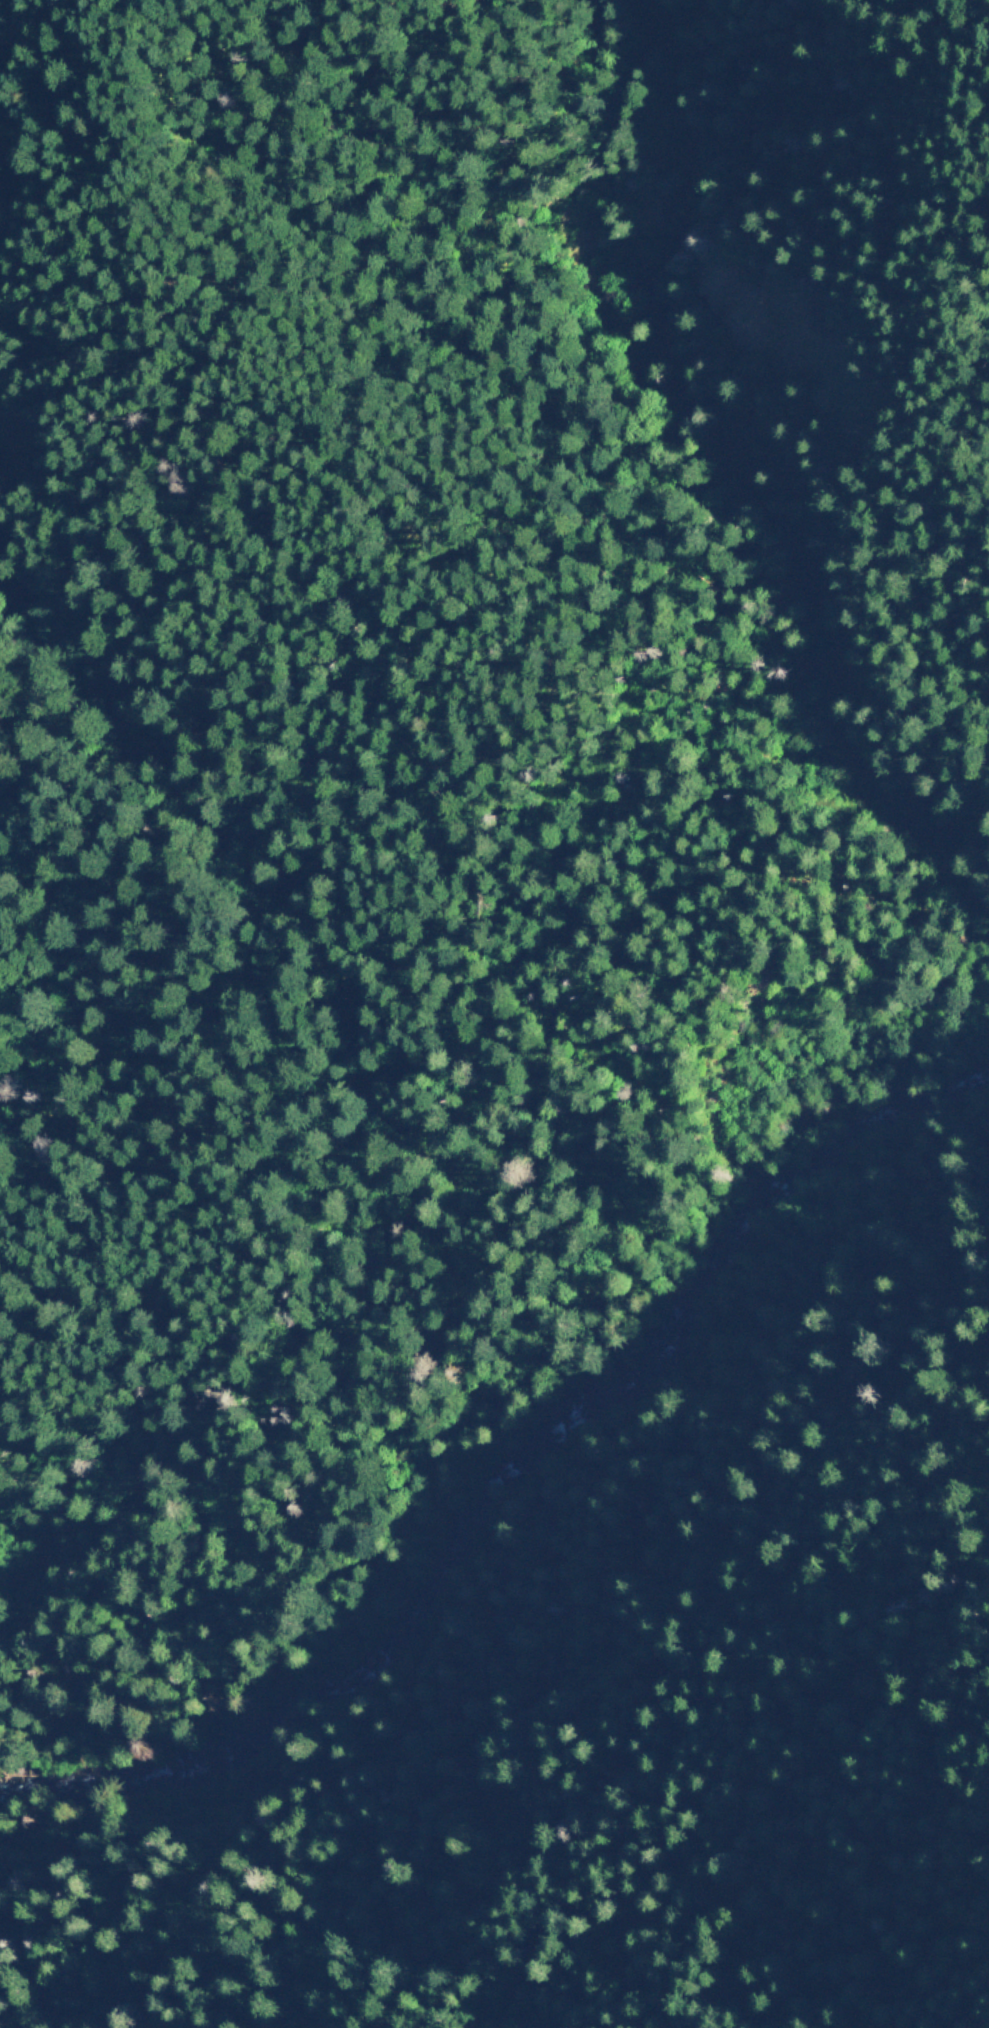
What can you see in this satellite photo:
river: (505, 1454)

